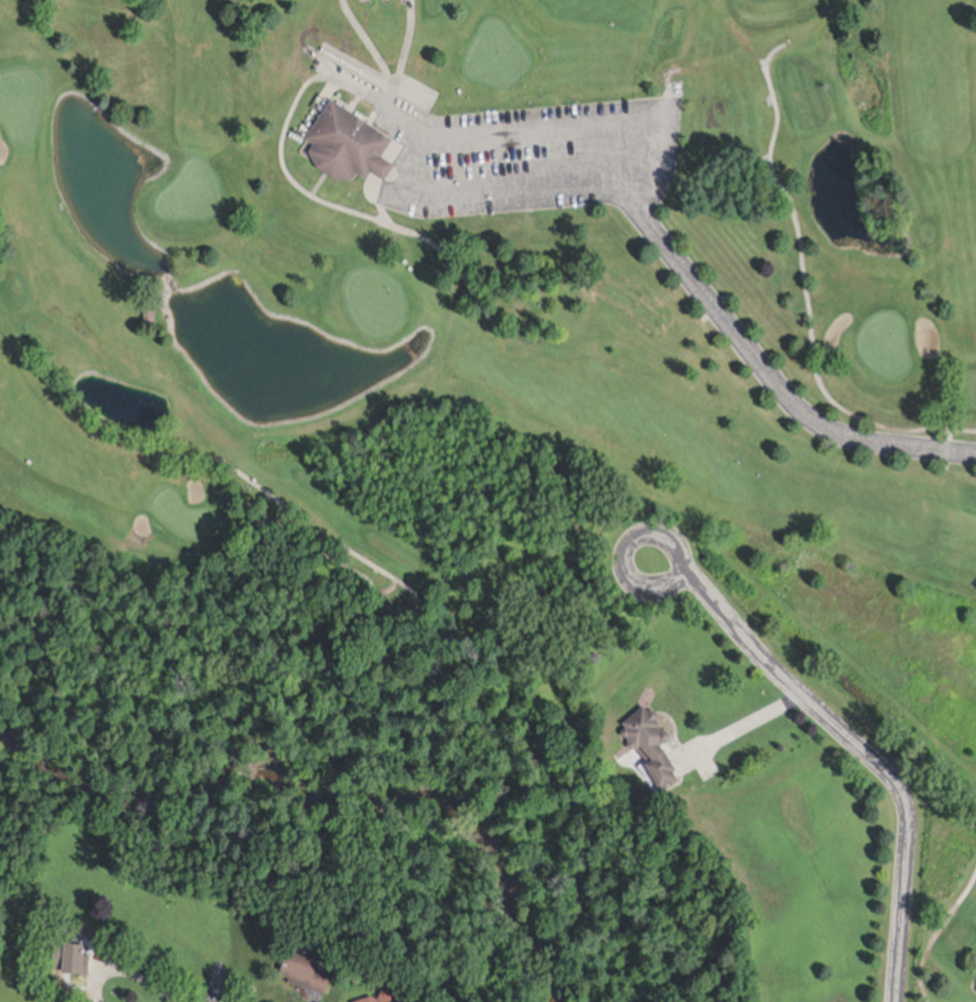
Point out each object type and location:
road: (400, 127)
road: (435, 144)
building: (348, 149)
park: (516, 304)
road: (765, 373)
road: (620, 544)
building: (650, 749)
road: (868, 756)
building: (70, 948)
building: (304, 961)
road: (129, 974)
building: (380, 991)

